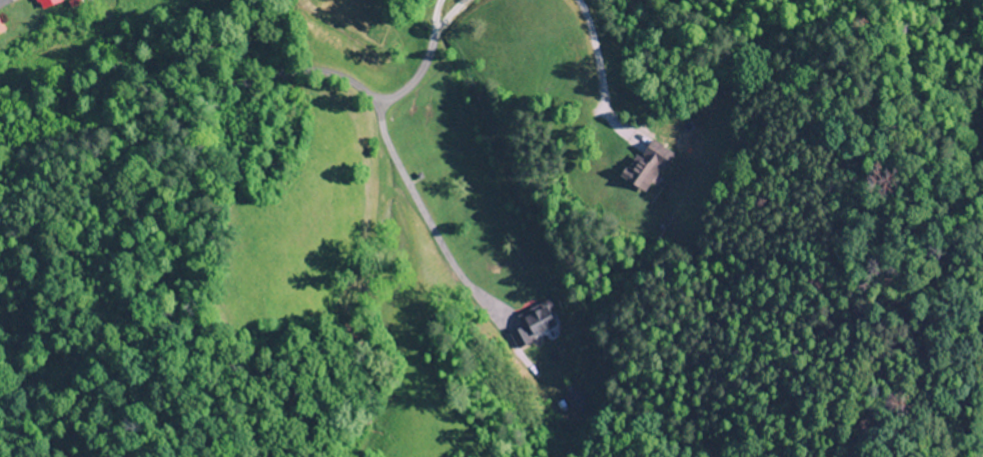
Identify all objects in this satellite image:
building: (45, 3)
building: (1, 29)
building: (646, 166)
building: (533, 323)

